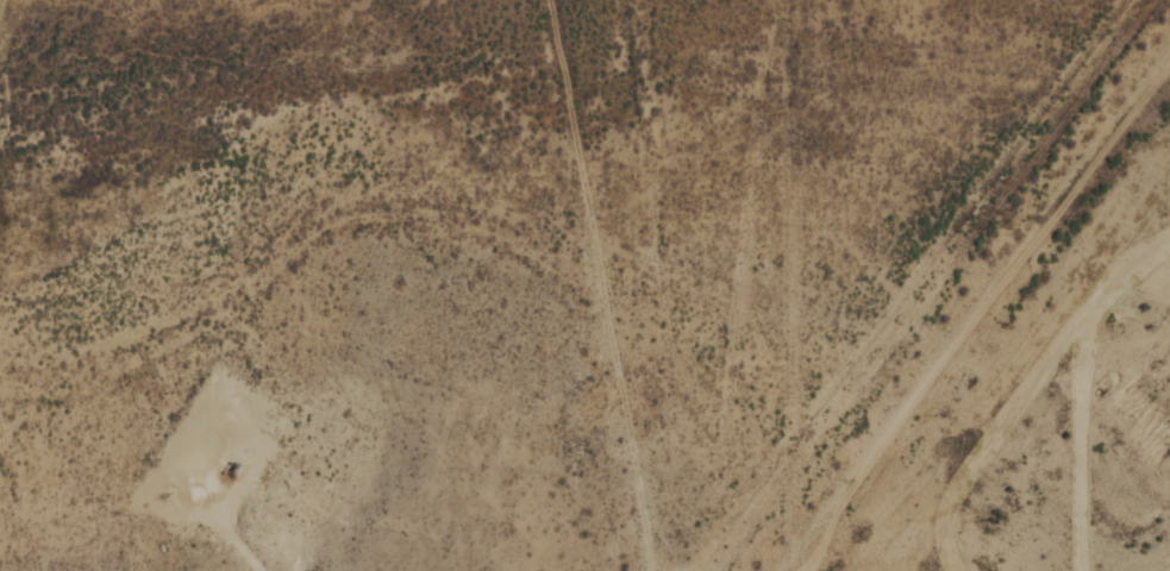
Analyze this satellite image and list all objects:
road: (933, 297)
road: (227, 528)

